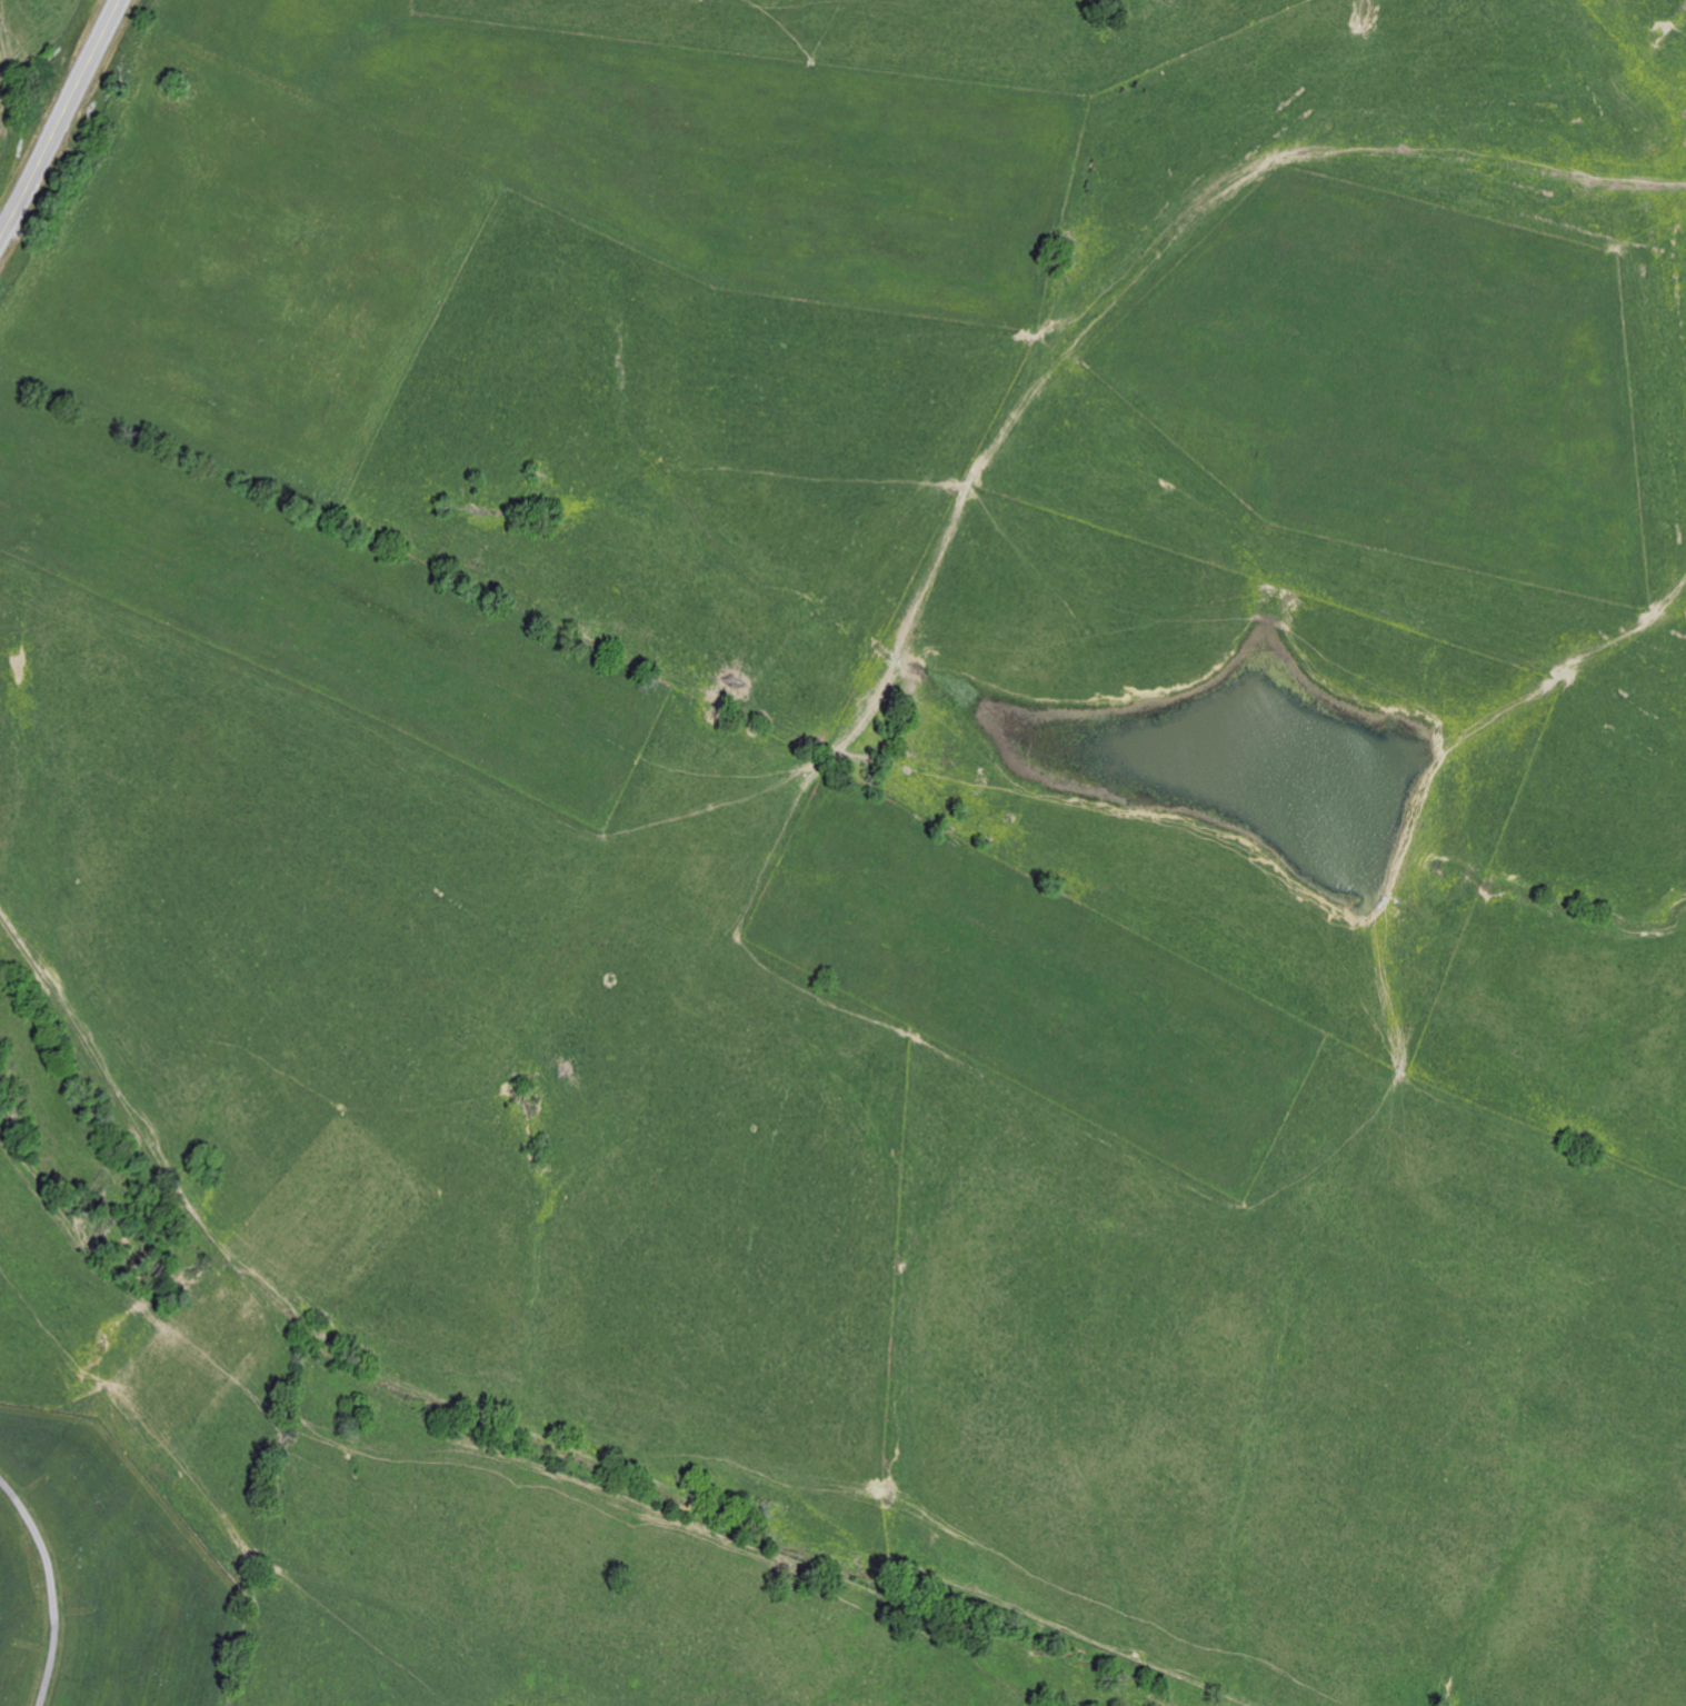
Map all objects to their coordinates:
road: (63, 121)
park: (98, 1575)
road: (51, 1586)

